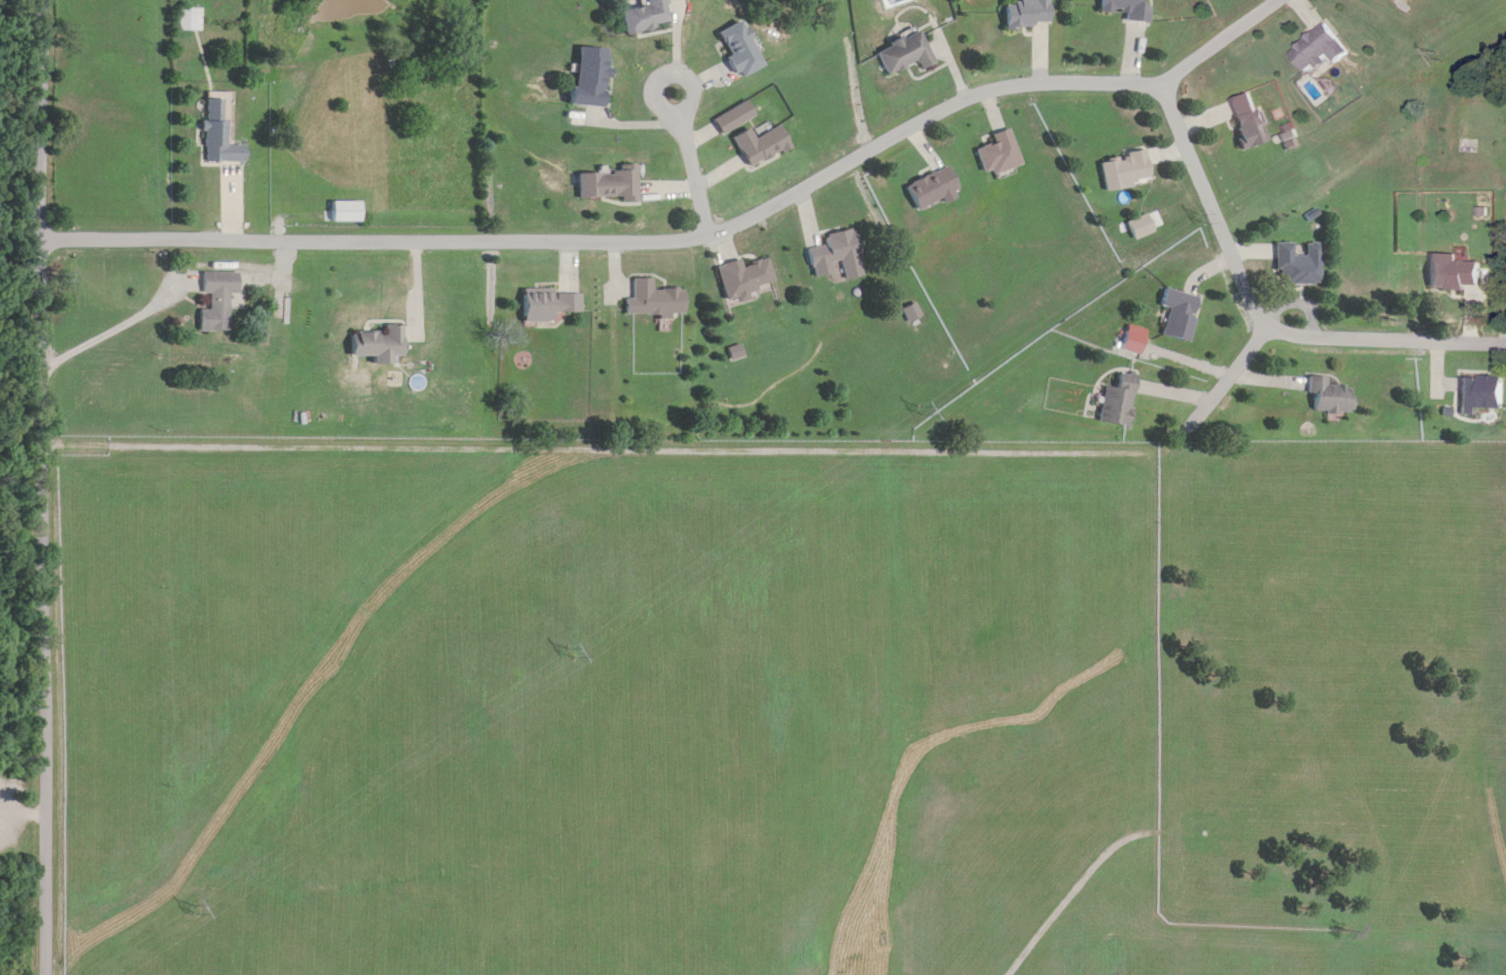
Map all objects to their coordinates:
building: (1127, 9)
building: (1026, 14)
building: (644, 17)
building: (188, 20)
building: (740, 49)
building: (1320, 50)
building: (905, 54)
building: (590, 79)
building: (1249, 123)
building: (214, 136)
building: (760, 145)
building: (998, 154)
road: (693, 165)
building: (1123, 170)
building: (607, 185)
building: (932, 188)
building: (345, 212)
road: (697, 240)
building: (833, 251)
building: (1298, 264)
building: (1454, 272)
road: (1240, 276)
building: (743, 278)
building: (216, 300)
building: (653, 300)
building: (548, 305)
building: (910, 313)
building: (1178, 313)
road: (115, 333)
road: (1337, 344)
road: (1463, 348)
building: (1481, 394)
building: (1328, 397)
building: (1118, 402)
road: (47, 487)
road: (24, 807)

